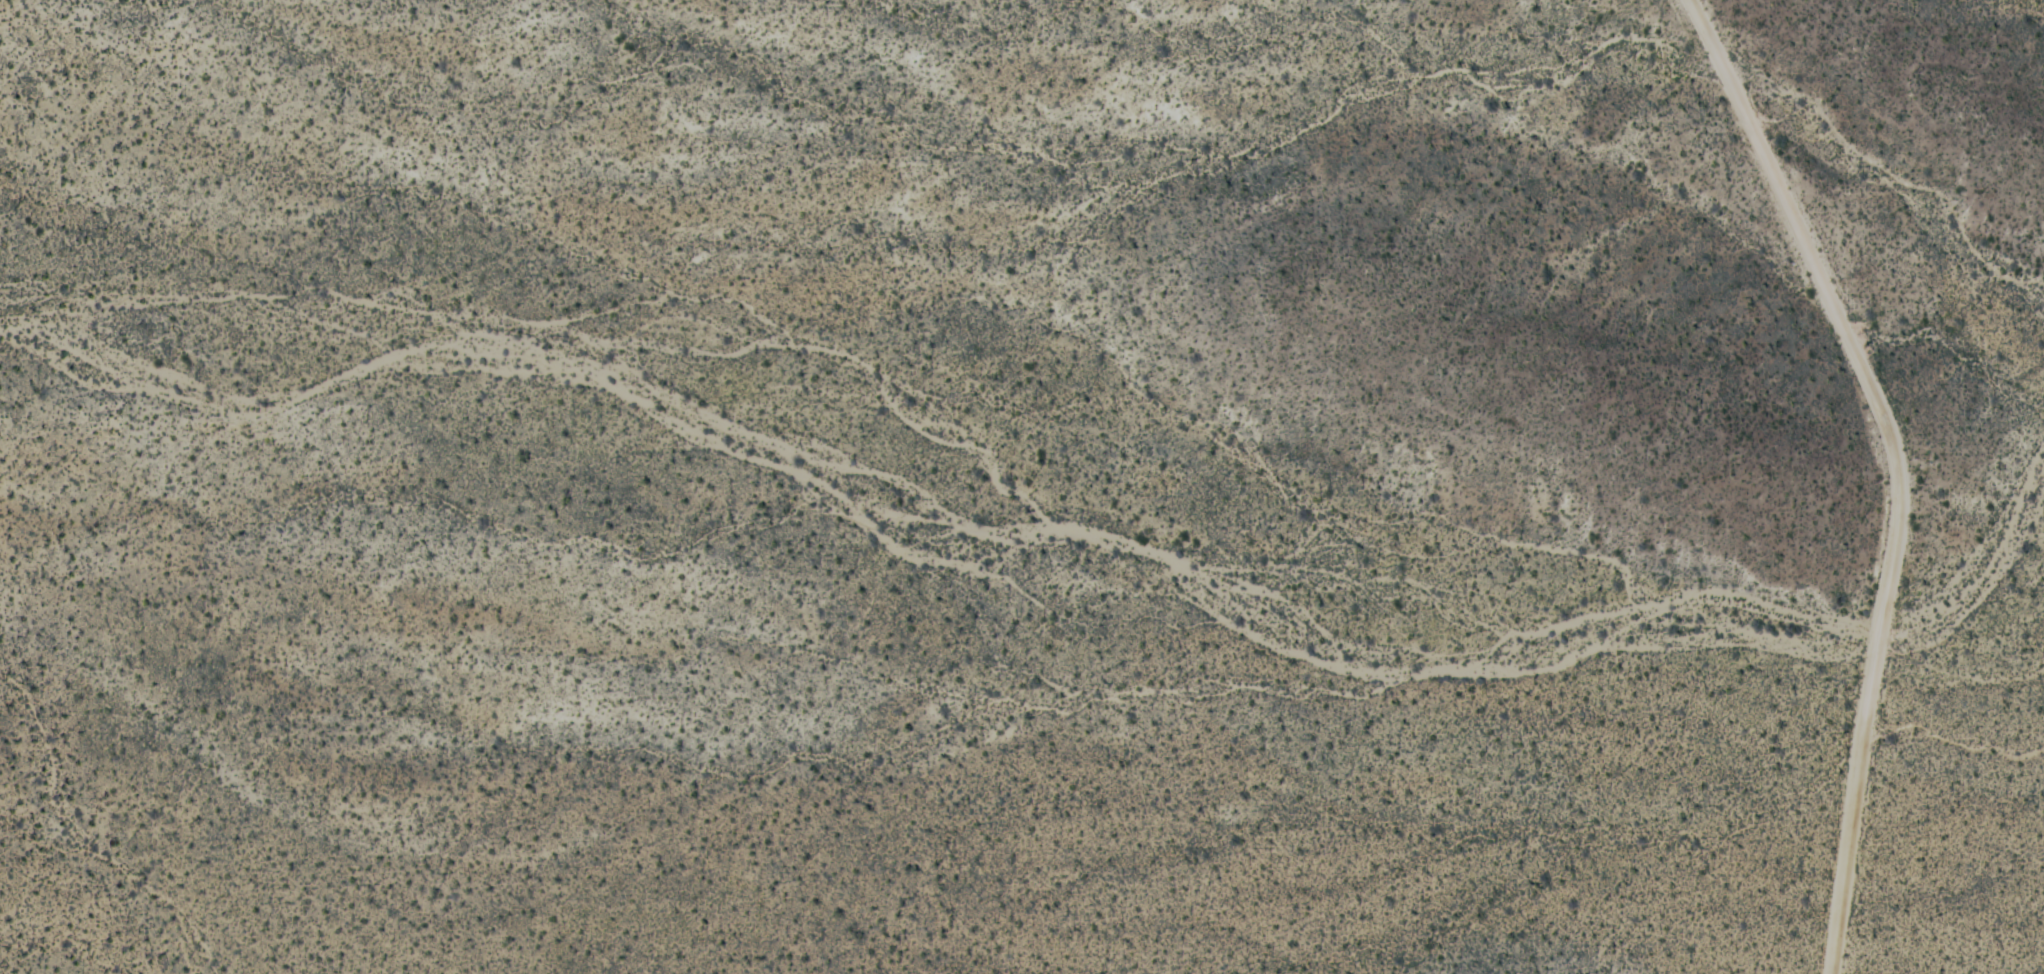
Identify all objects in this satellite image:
road: (1899, 465)

